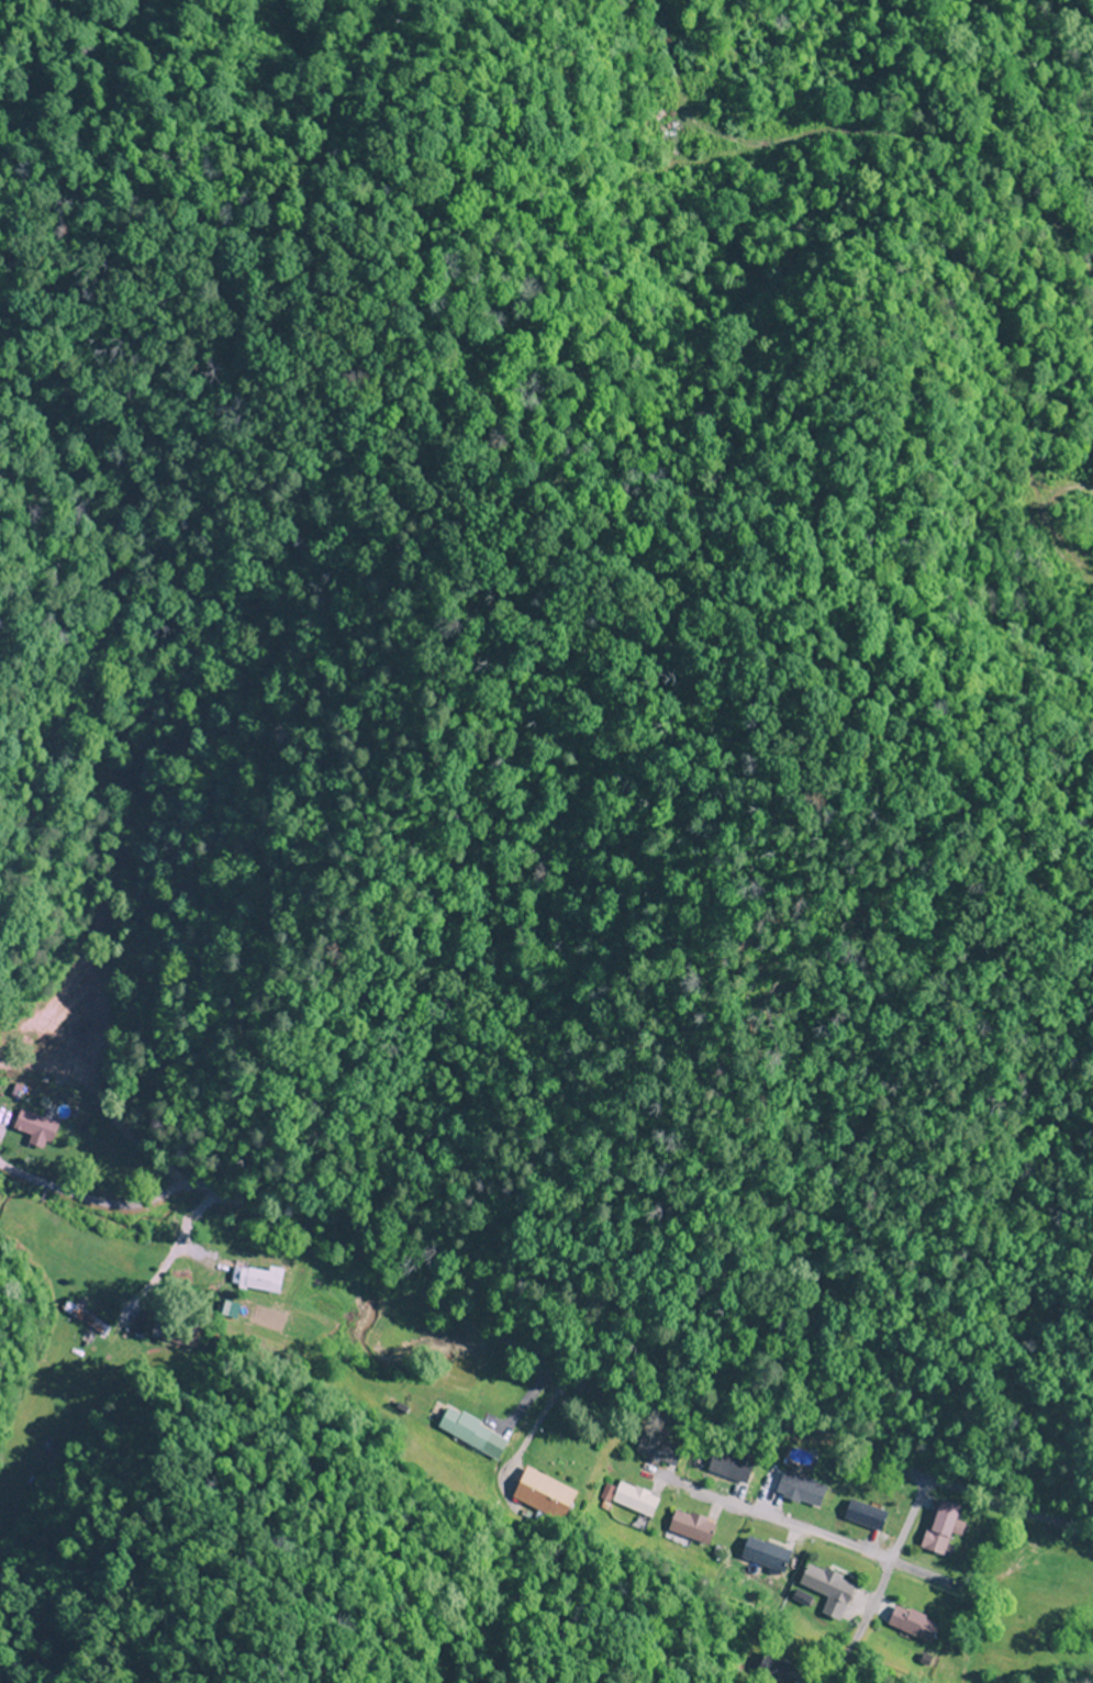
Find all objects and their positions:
building: (31, 1125)
building: (252, 1279)
building: (86, 1319)
road: (536, 1356)
building: (469, 1431)
building: (800, 1491)
building: (544, 1495)
building: (635, 1500)
building: (863, 1516)
road: (818, 1525)
building: (939, 1528)
building: (691, 1530)
building: (763, 1556)
building: (821, 1581)
building: (913, 1625)

